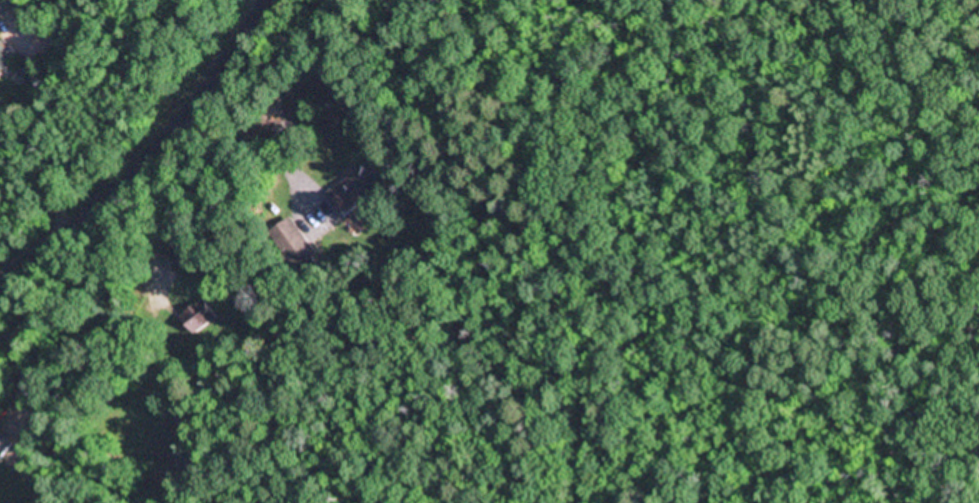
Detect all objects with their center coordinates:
building: (3, 62)
road: (150, 156)
building: (357, 187)
building: (293, 242)
building: (179, 251)
building: (200, 317)
building: (4, 450)

